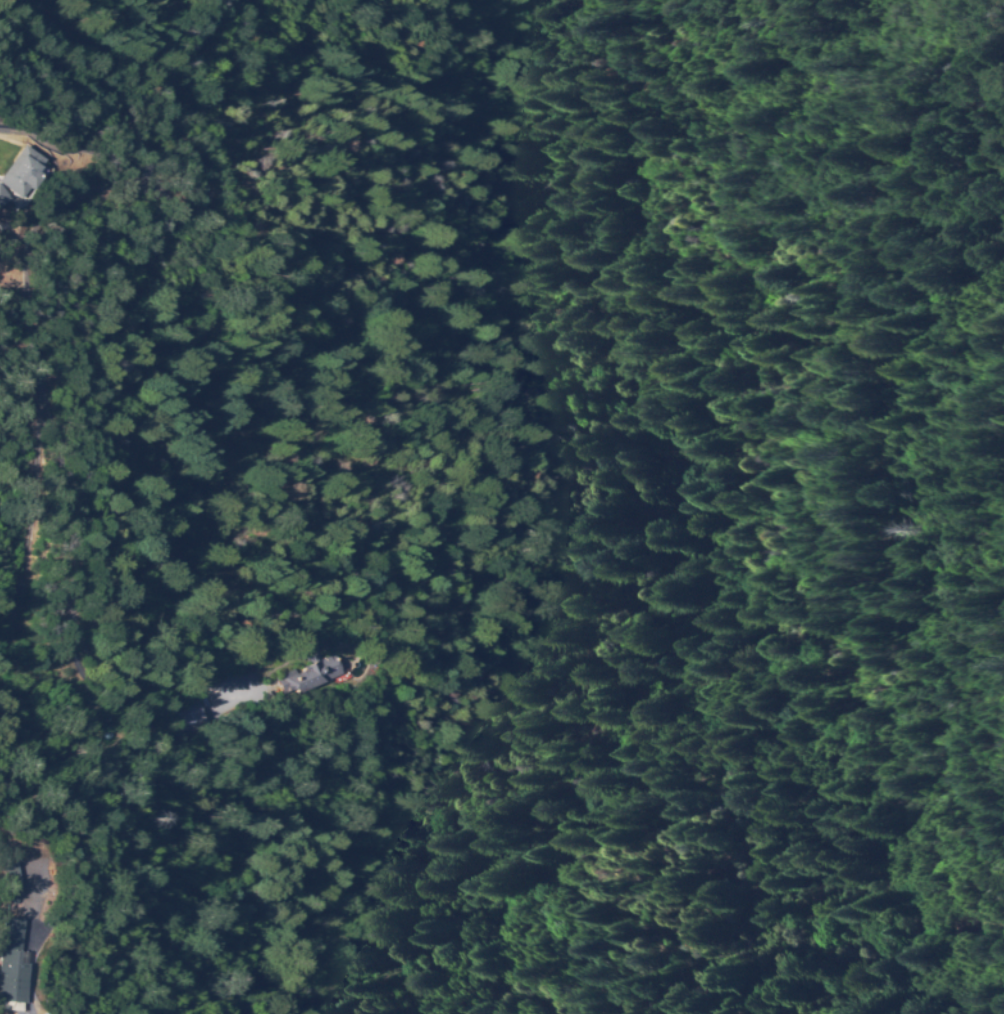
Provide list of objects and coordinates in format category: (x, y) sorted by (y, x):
building: (23, 173)
building: (3, 196)
building: (309, 674)
building: (192, 718)
building: (13, 879)
building: (13, 966)

